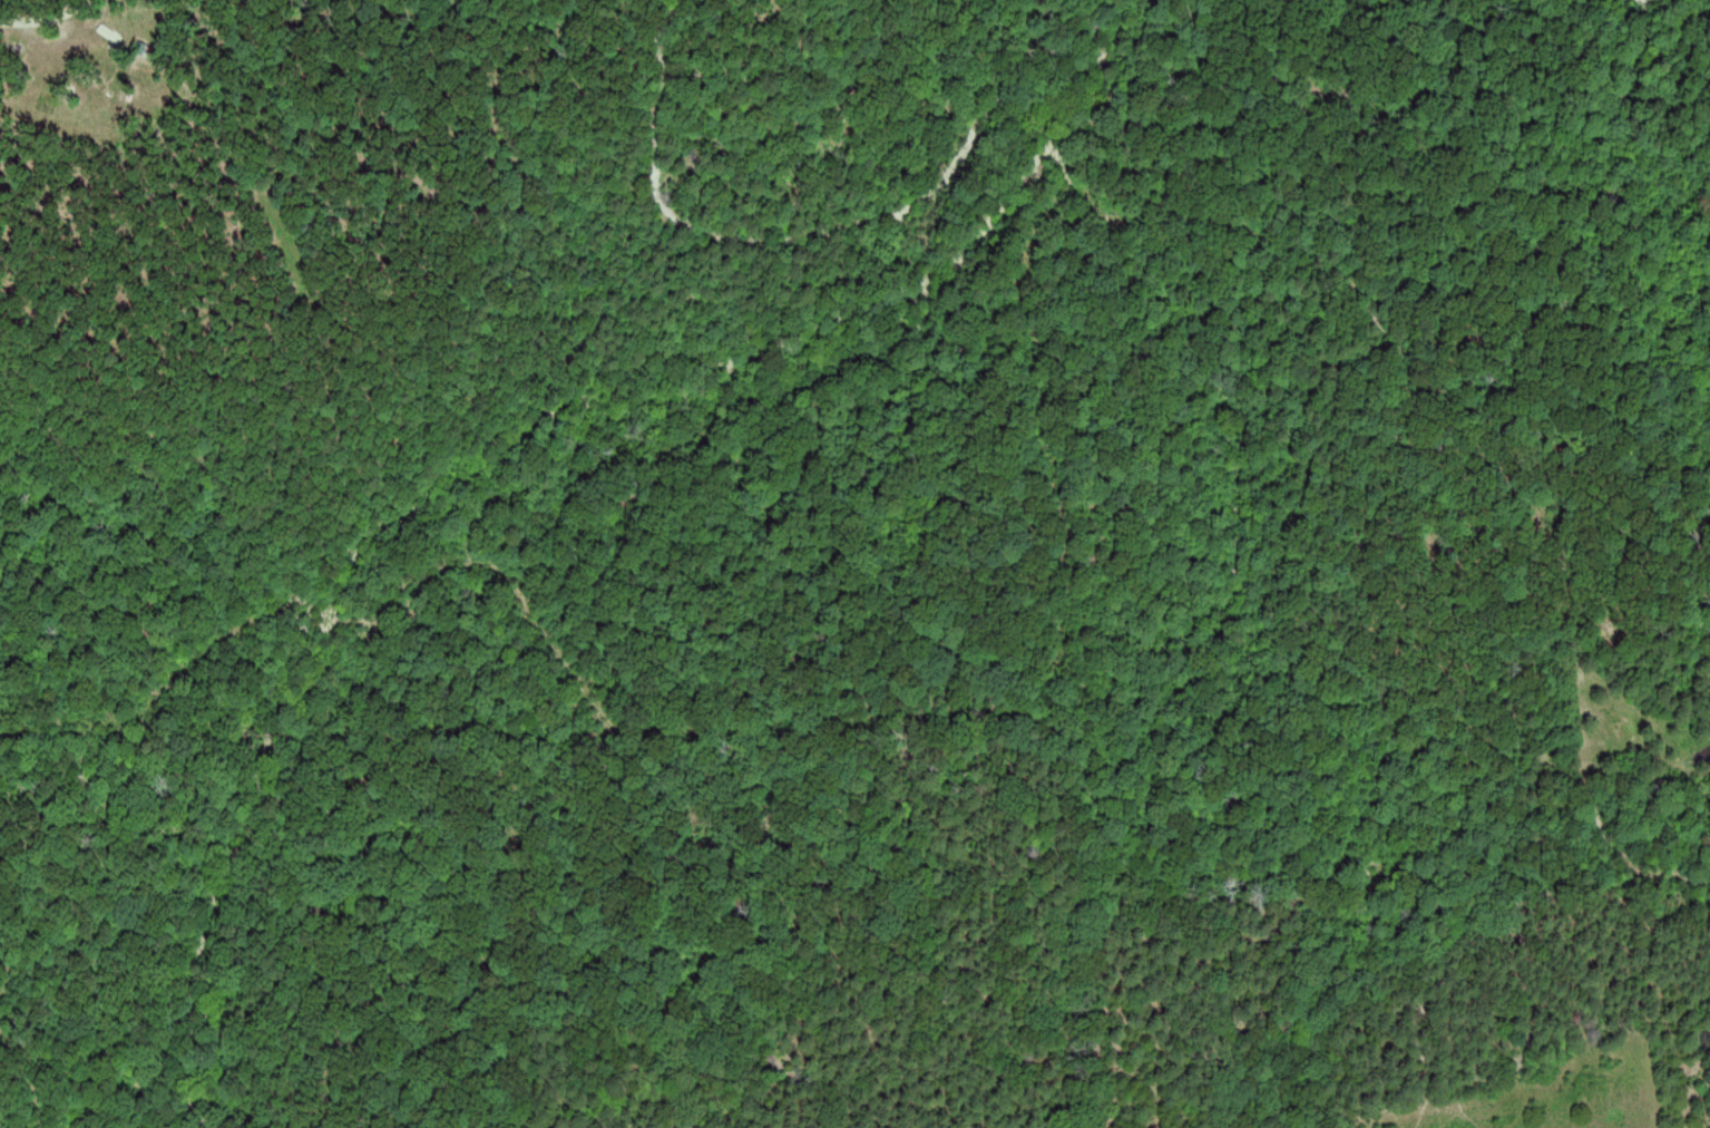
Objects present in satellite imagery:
road: (50, 9)

